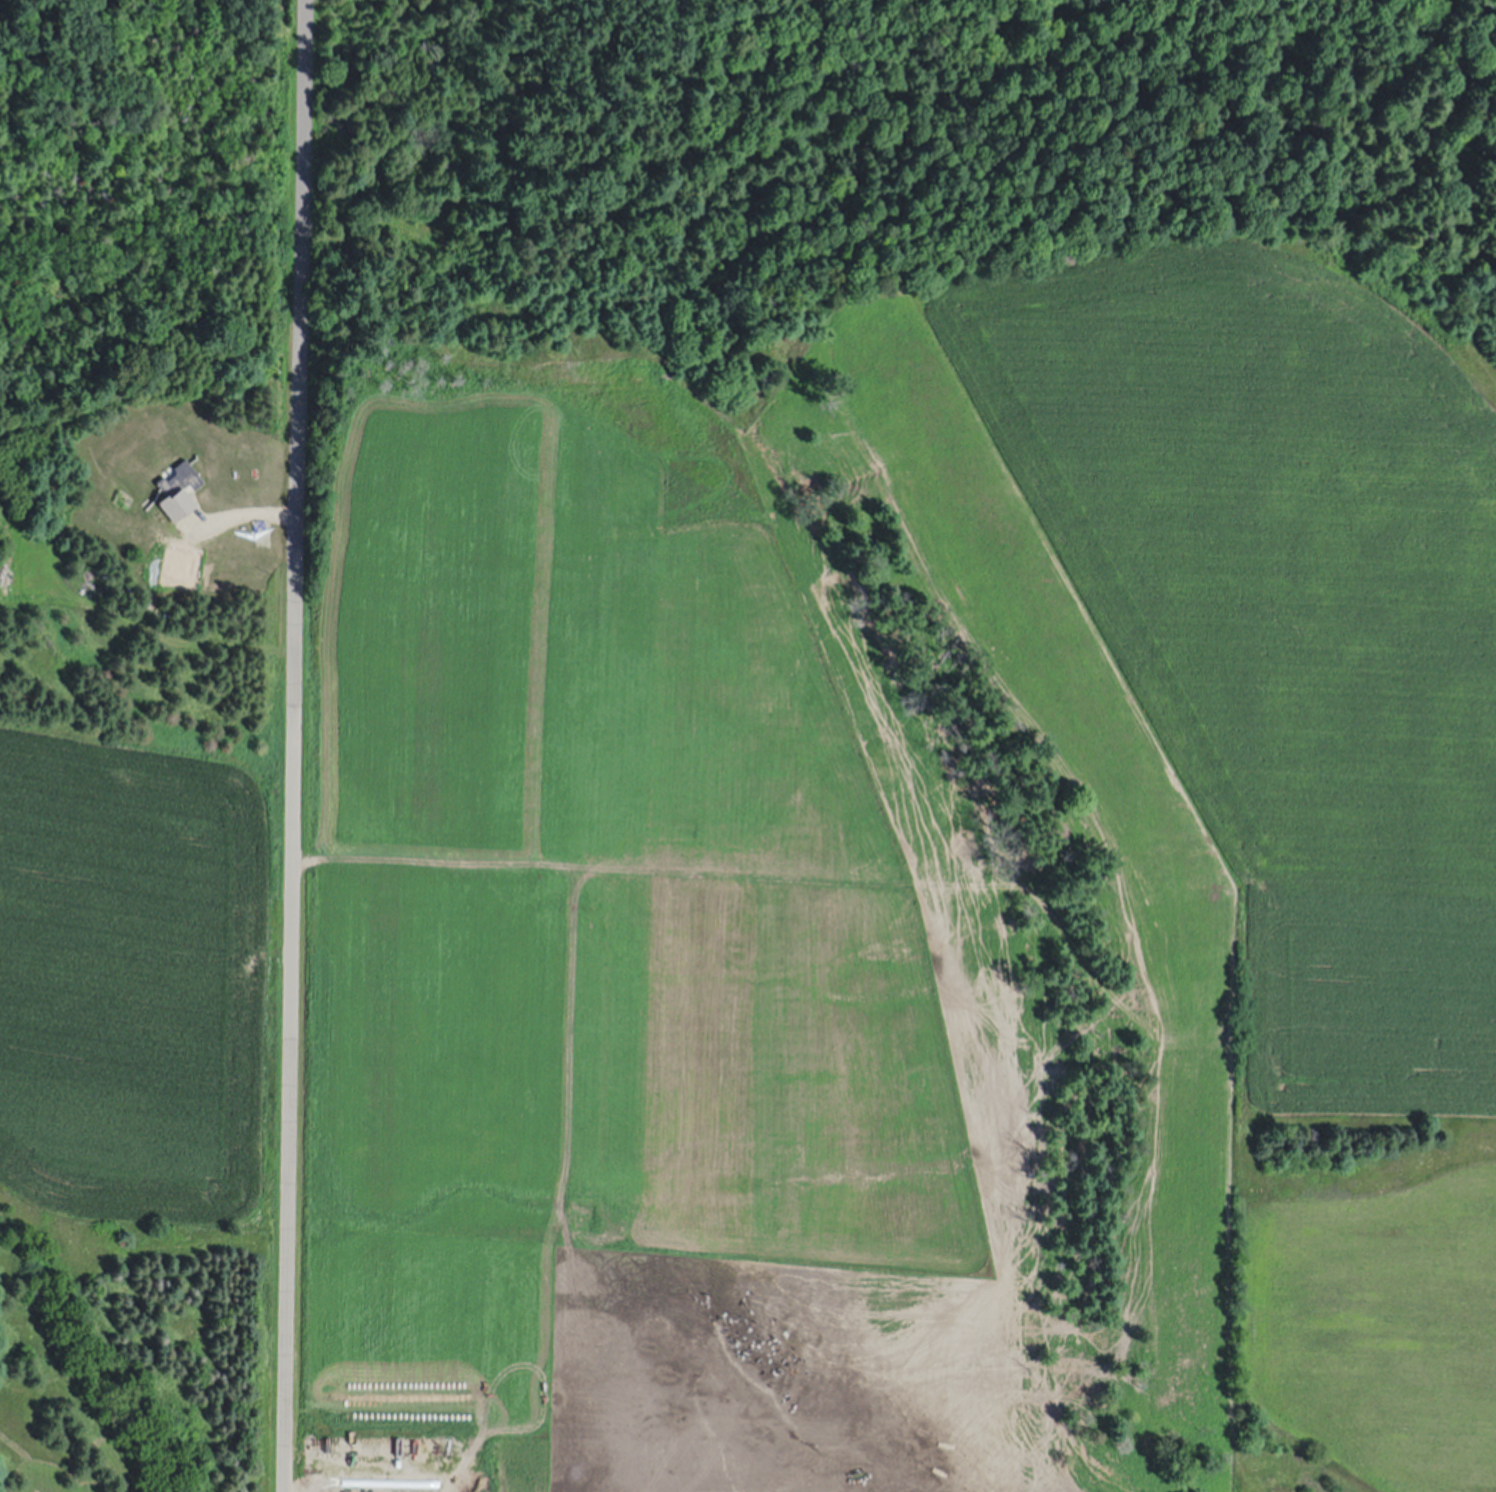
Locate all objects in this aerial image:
road: (295, 746)
building: (1479, 1145)

